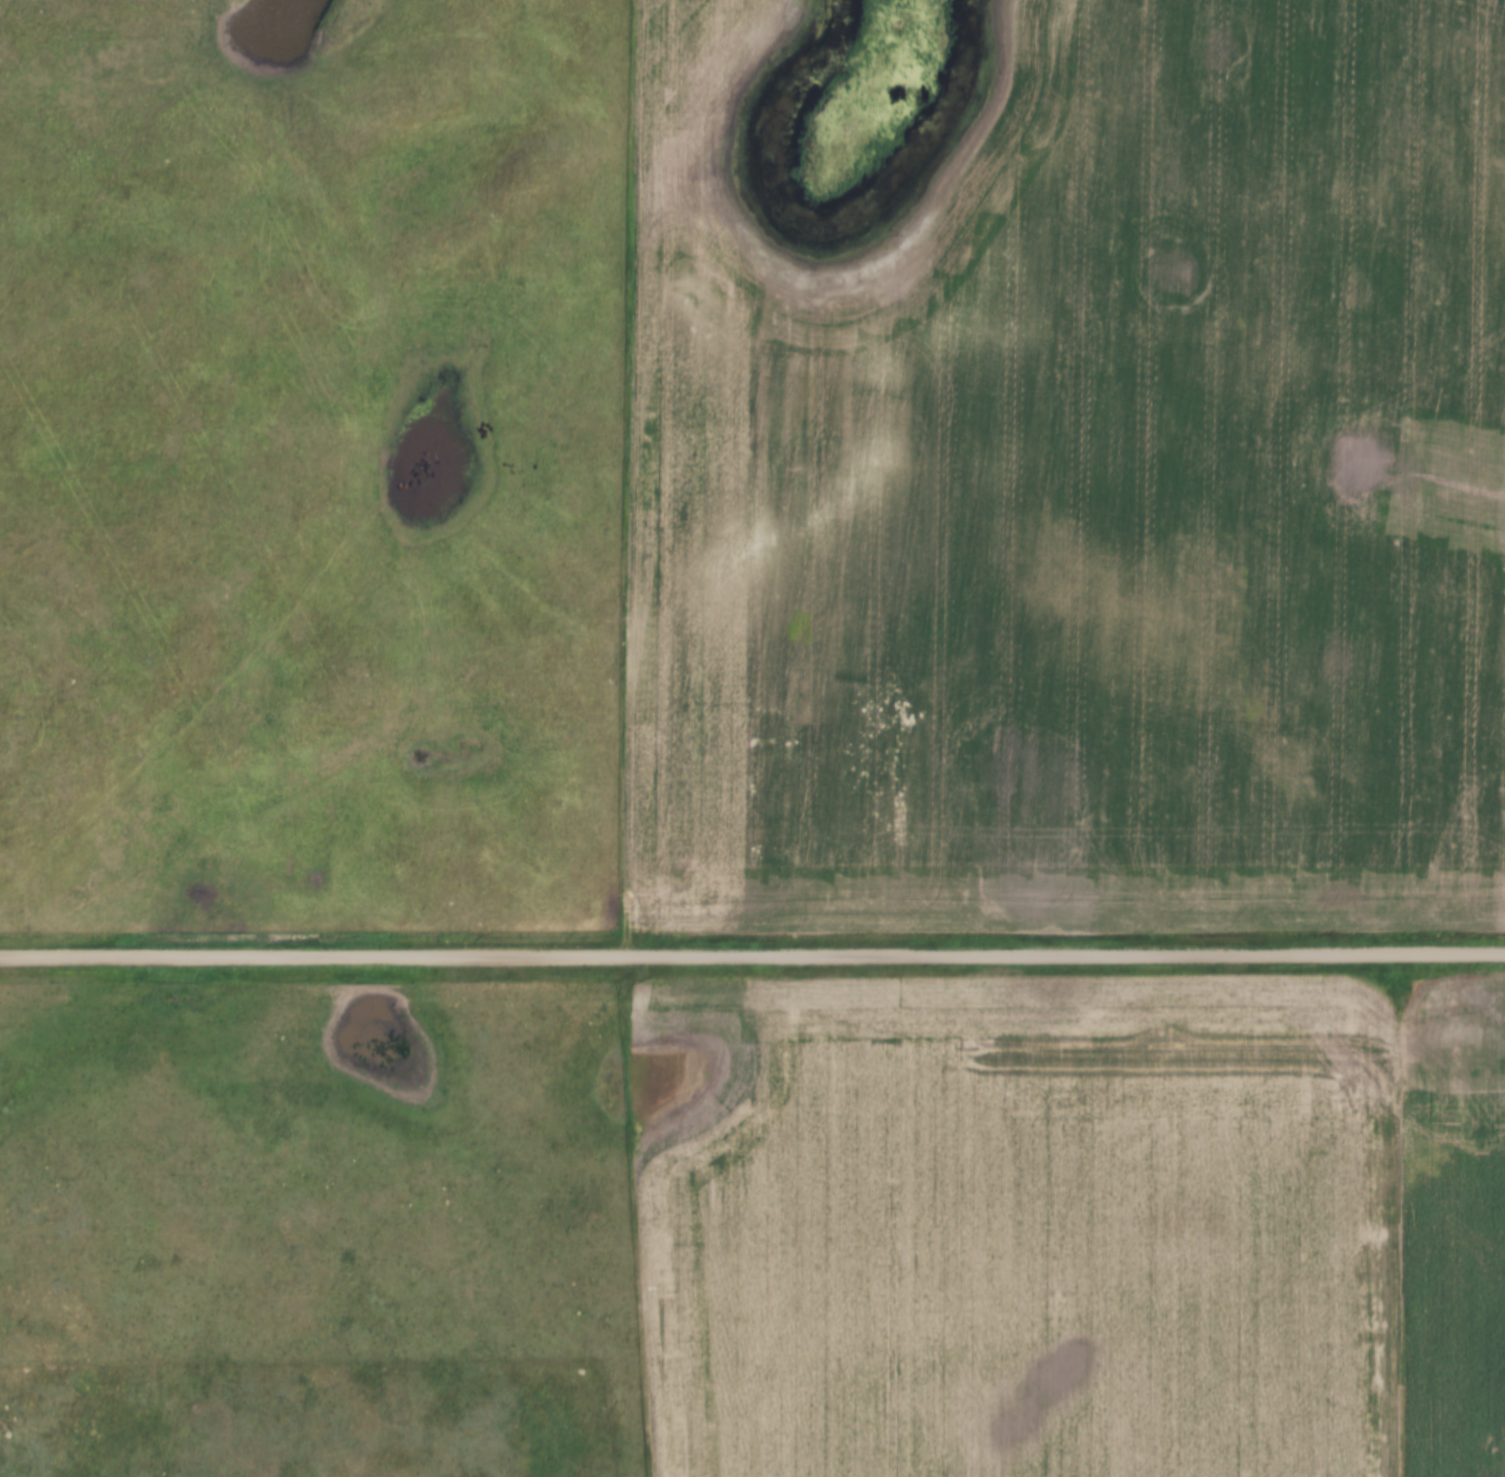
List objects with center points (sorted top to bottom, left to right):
road: (752, 959)

